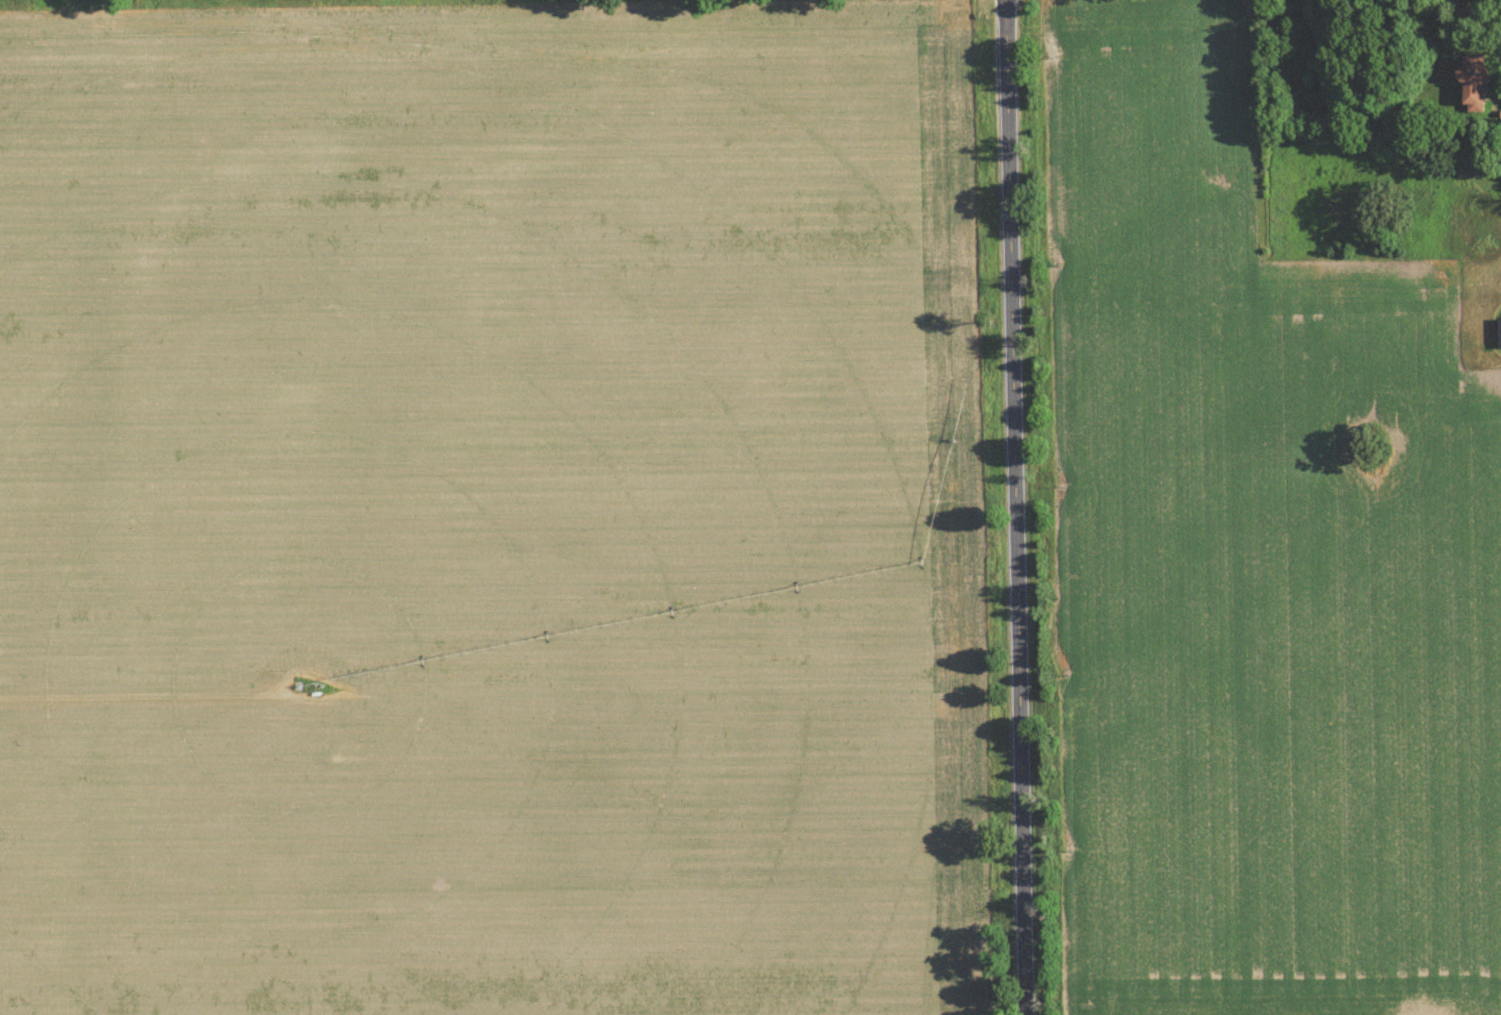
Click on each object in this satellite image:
building: (1470, 93)
building: (1497, 337)
road: (1015, 455)
road: (1023, 962)

